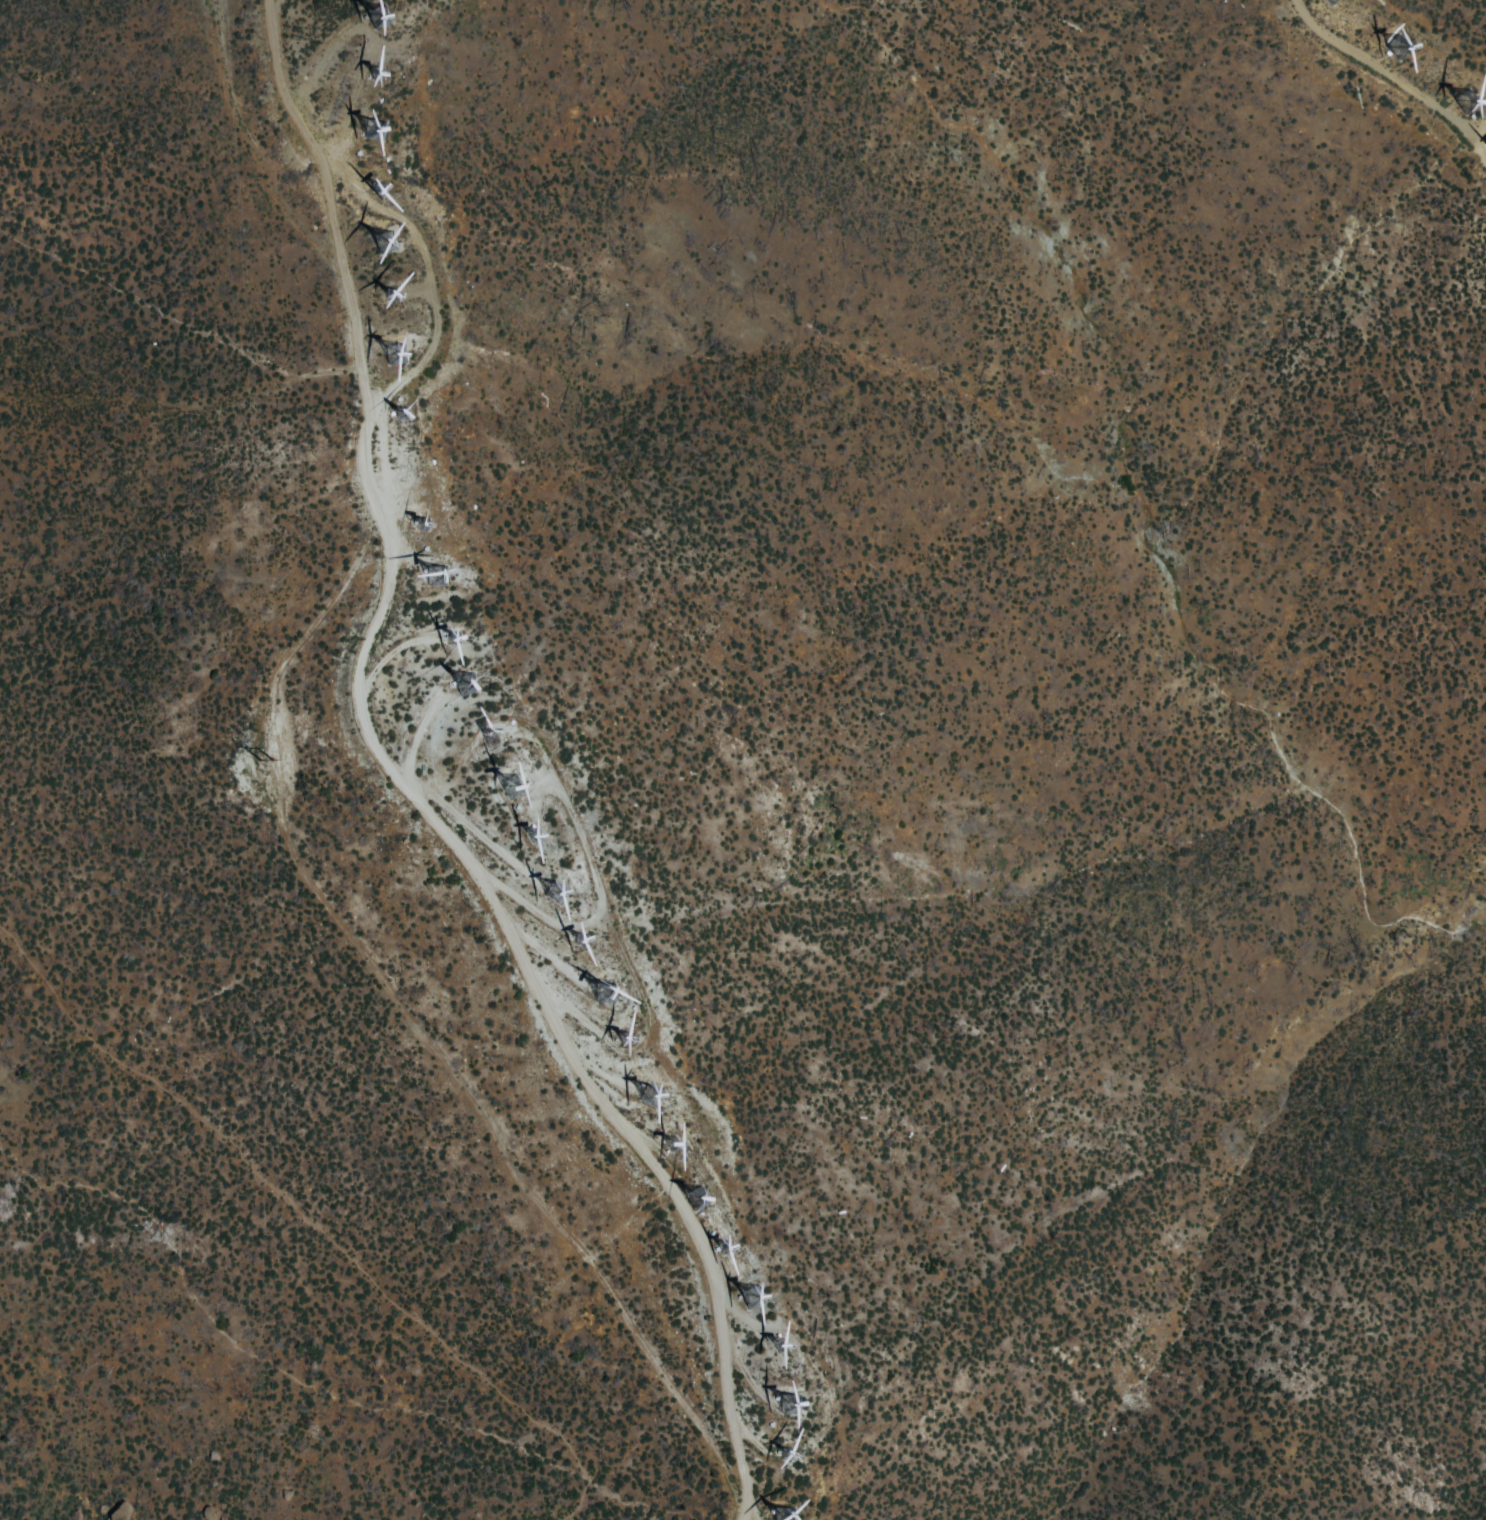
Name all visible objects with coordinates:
wind turbine: (376, 14)
building: (1395, 44)
wind turbine: (1395, 49)
wind turbine: (376, 74)
road: (1395, 77)
wind turbine: (1466, 103)
wind turbine: (372, 128)
building: (373, 129)
wind turbine: (373, 187)
wind turbine: (382, 244)
wind turbine: (389, 296)
wind turbine: (387, 354)
wind turbine: (404, 412)
wind turbine: (416, 522)
wind turbine: (440, 577)
wind turbine: (455, 635)
wind turbine: (461, 686)
wind turbine: (493, 745)
wind turbine: (507, 788)
road: (394, 790)
wind turbine: (533, 839)
wind turbine: (551, 893)
wind turbine: (584, 939)
wind turbine: (601, 995)
wind turbine: (622, 1040)
wind turbine: (643, 1088)
wind turbine: (671, 1137)
wind turbine: (691, 1194)
road: (306, 1223)
wind turbine: (718, 1245)
wind turbine: (749, 1291)
wind turbine: (779, 1344)
wind turbine: (782, 1397)
wind turbine: (784, 1510)
building: (118, 1511)

